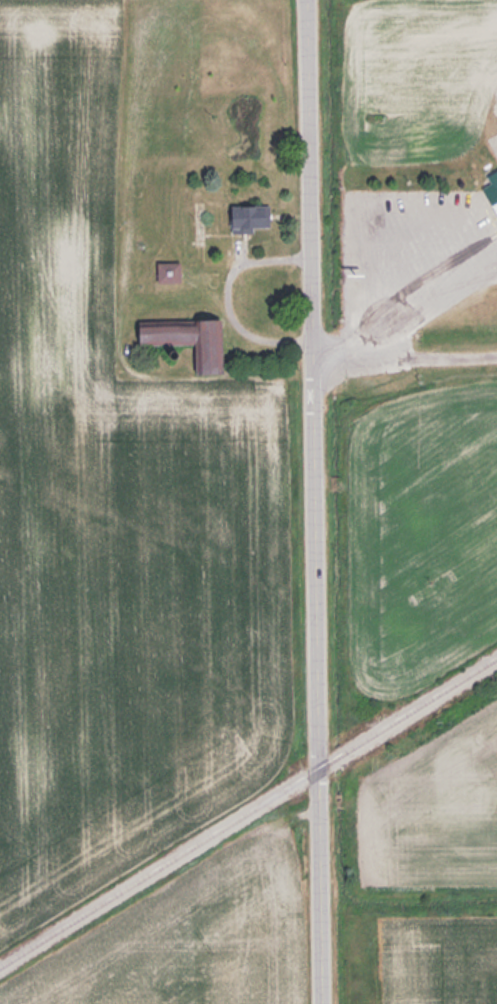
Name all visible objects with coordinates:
building: (492, 187)
building: (252, 216)
building: (170, 271)
road: (225, 294)
building: (190, 339)
road: (315, 501)
railway: (248, 811)

